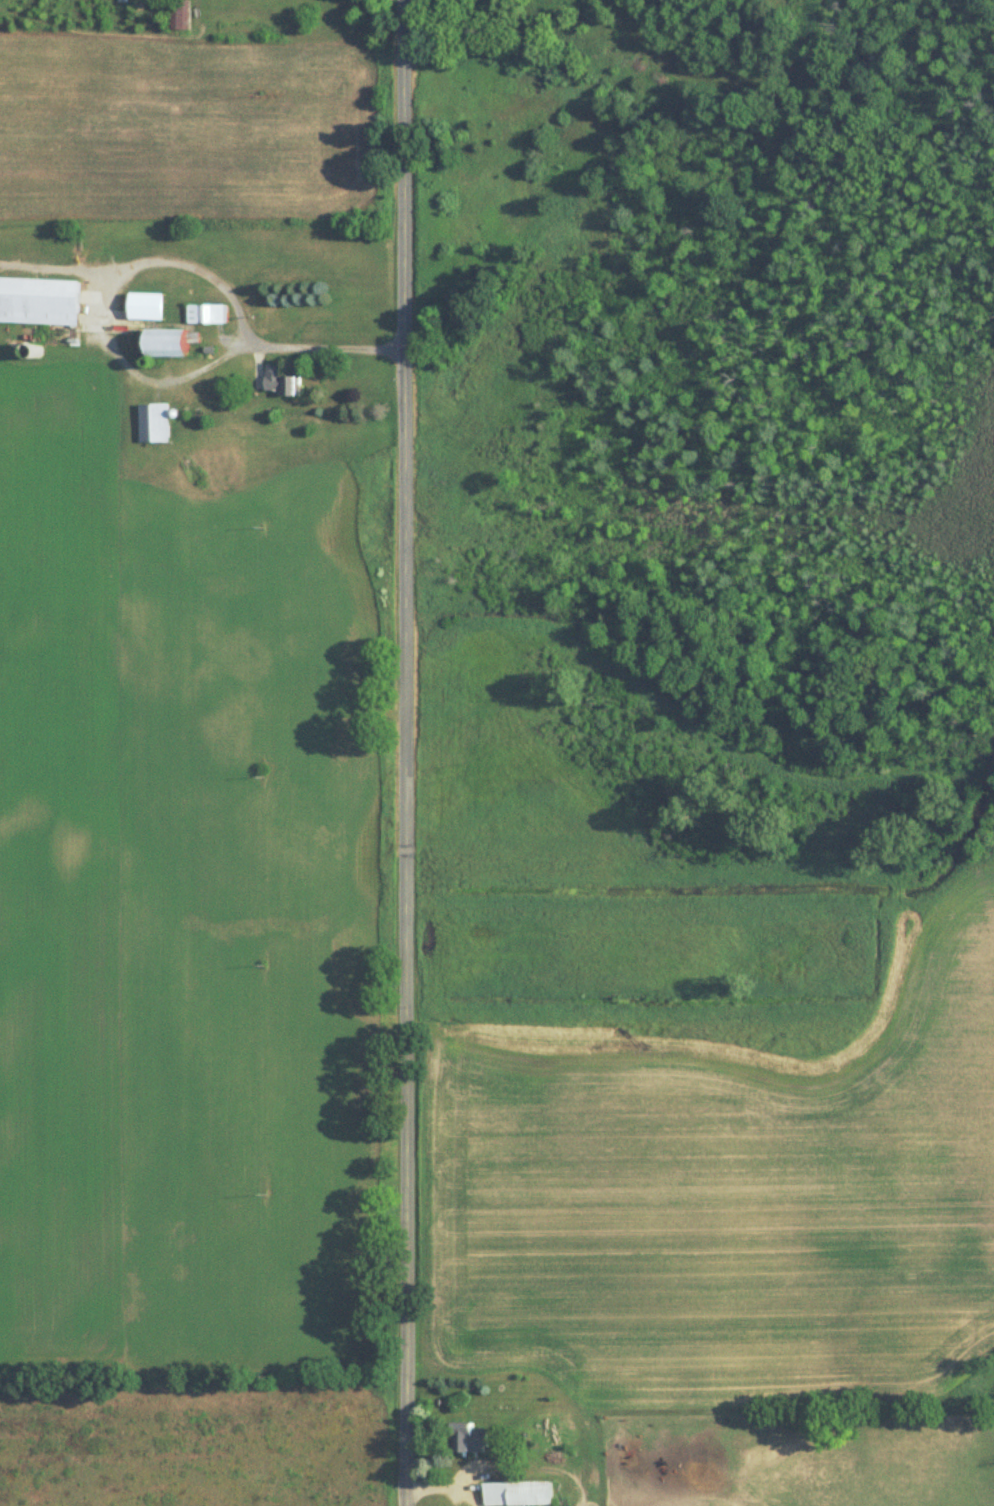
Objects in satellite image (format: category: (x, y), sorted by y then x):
building: (179, 14)
building: (38, 300)
building: (206, 312)
building: (167, 341)
road: (132, 371)
building: (280, 379)
building: (158, 421)
road: (411, 752)
building: (471, 1439)
road: (450, 1488)
building: (519, 1493)

